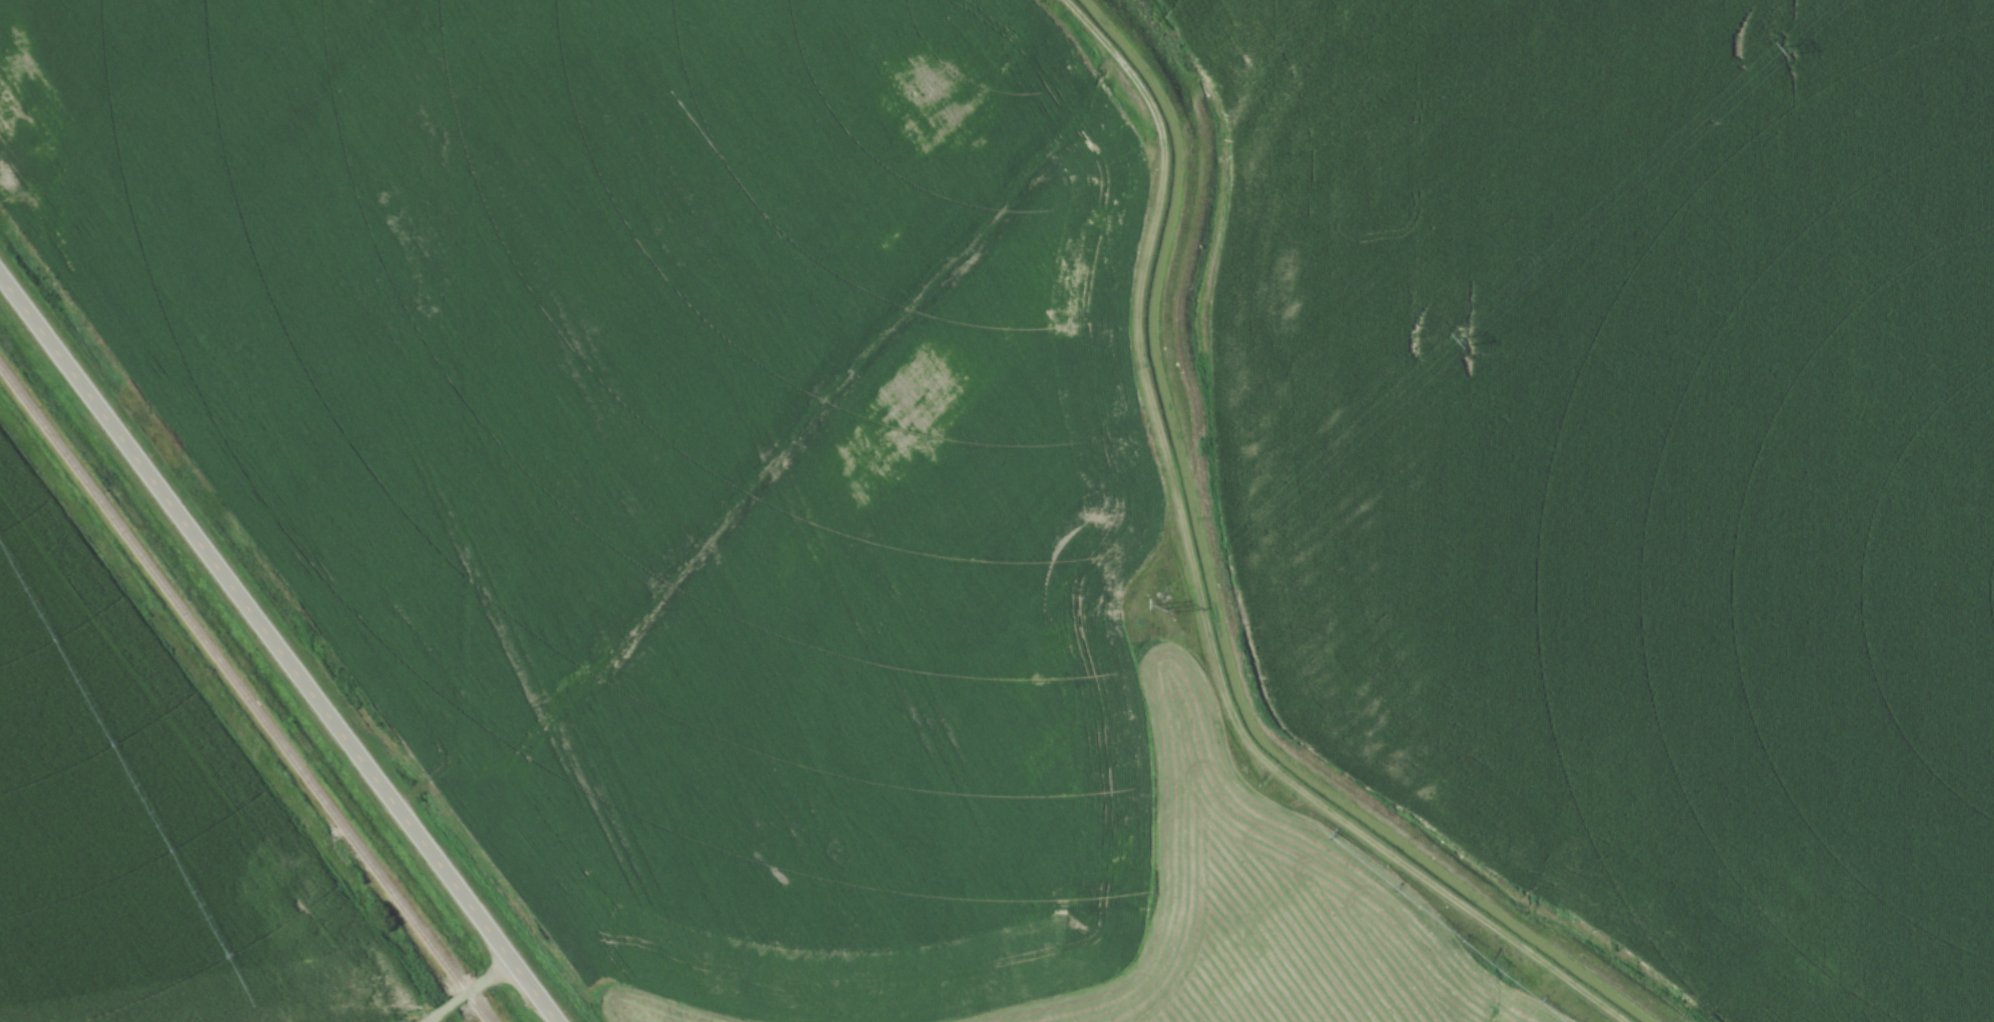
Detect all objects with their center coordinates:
power tower: (1787, 52)
power tower: (1464, 342)
power tower: (1166, 609)
road: (275, 654)
railway: (241, 695)
road: (468, 993)

